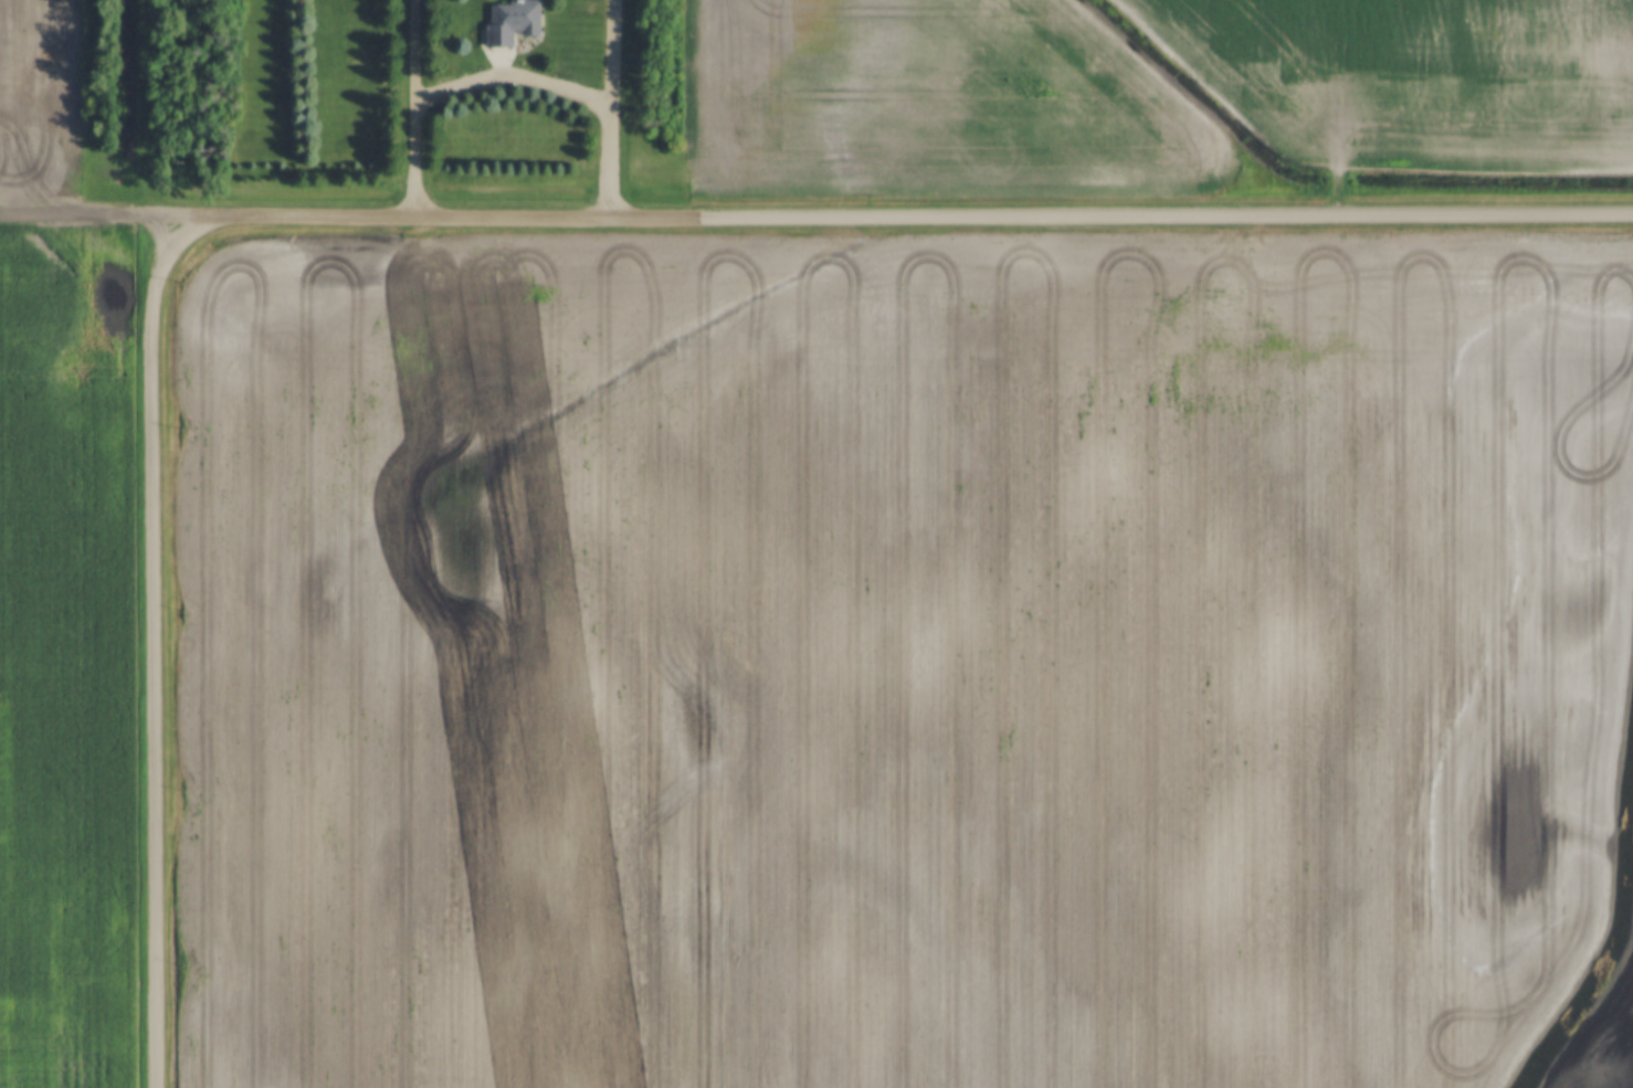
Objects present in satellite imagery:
building: (509, 22)
road: (513, 86)
road: (414, 106)
road: (611, 107)
road: (82, 209)
road: (898, 214)
road: (155, 634)

